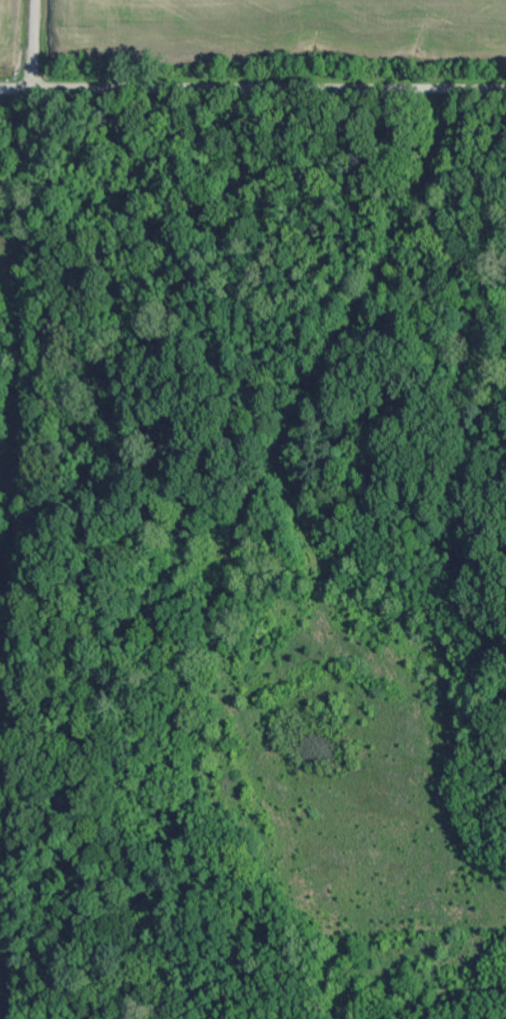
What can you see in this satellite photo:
road: (17, 49)
road: (253, 105)

